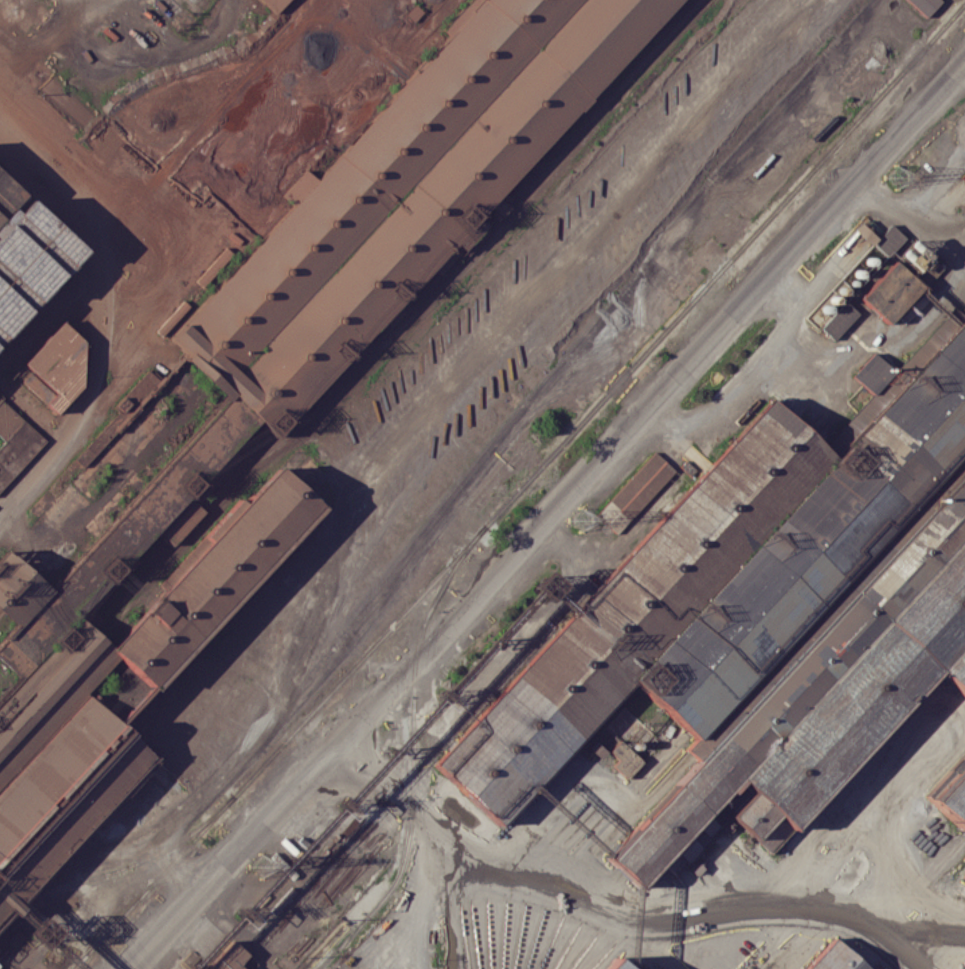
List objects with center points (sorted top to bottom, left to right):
building: (275, 4)
building: (924, 5)
building: (368, 180)
road: (715, 188)
building: (443, 203)
building: (882, 239)
building: (28, 255)
road: (100, 283)
building: (895, 289)
building: (839, 320)
building: (56, 367)
road: (749, 376)
building: (15, 442)
railway: (521, 488)
building: (635, 491)
railway: (430, 611)
building: (762, 624)
building: (115, 649)
road: (422, 651)
building: (624, 759)
building: (952, 791)
road: (229, 847)
railway: (405, 854)
railway: (136, 863)
road: (807, 939)
road: (650, 948)
building: (835, 958)
building: (232, 959)
road: (955, 959)
building: (611, 965)

